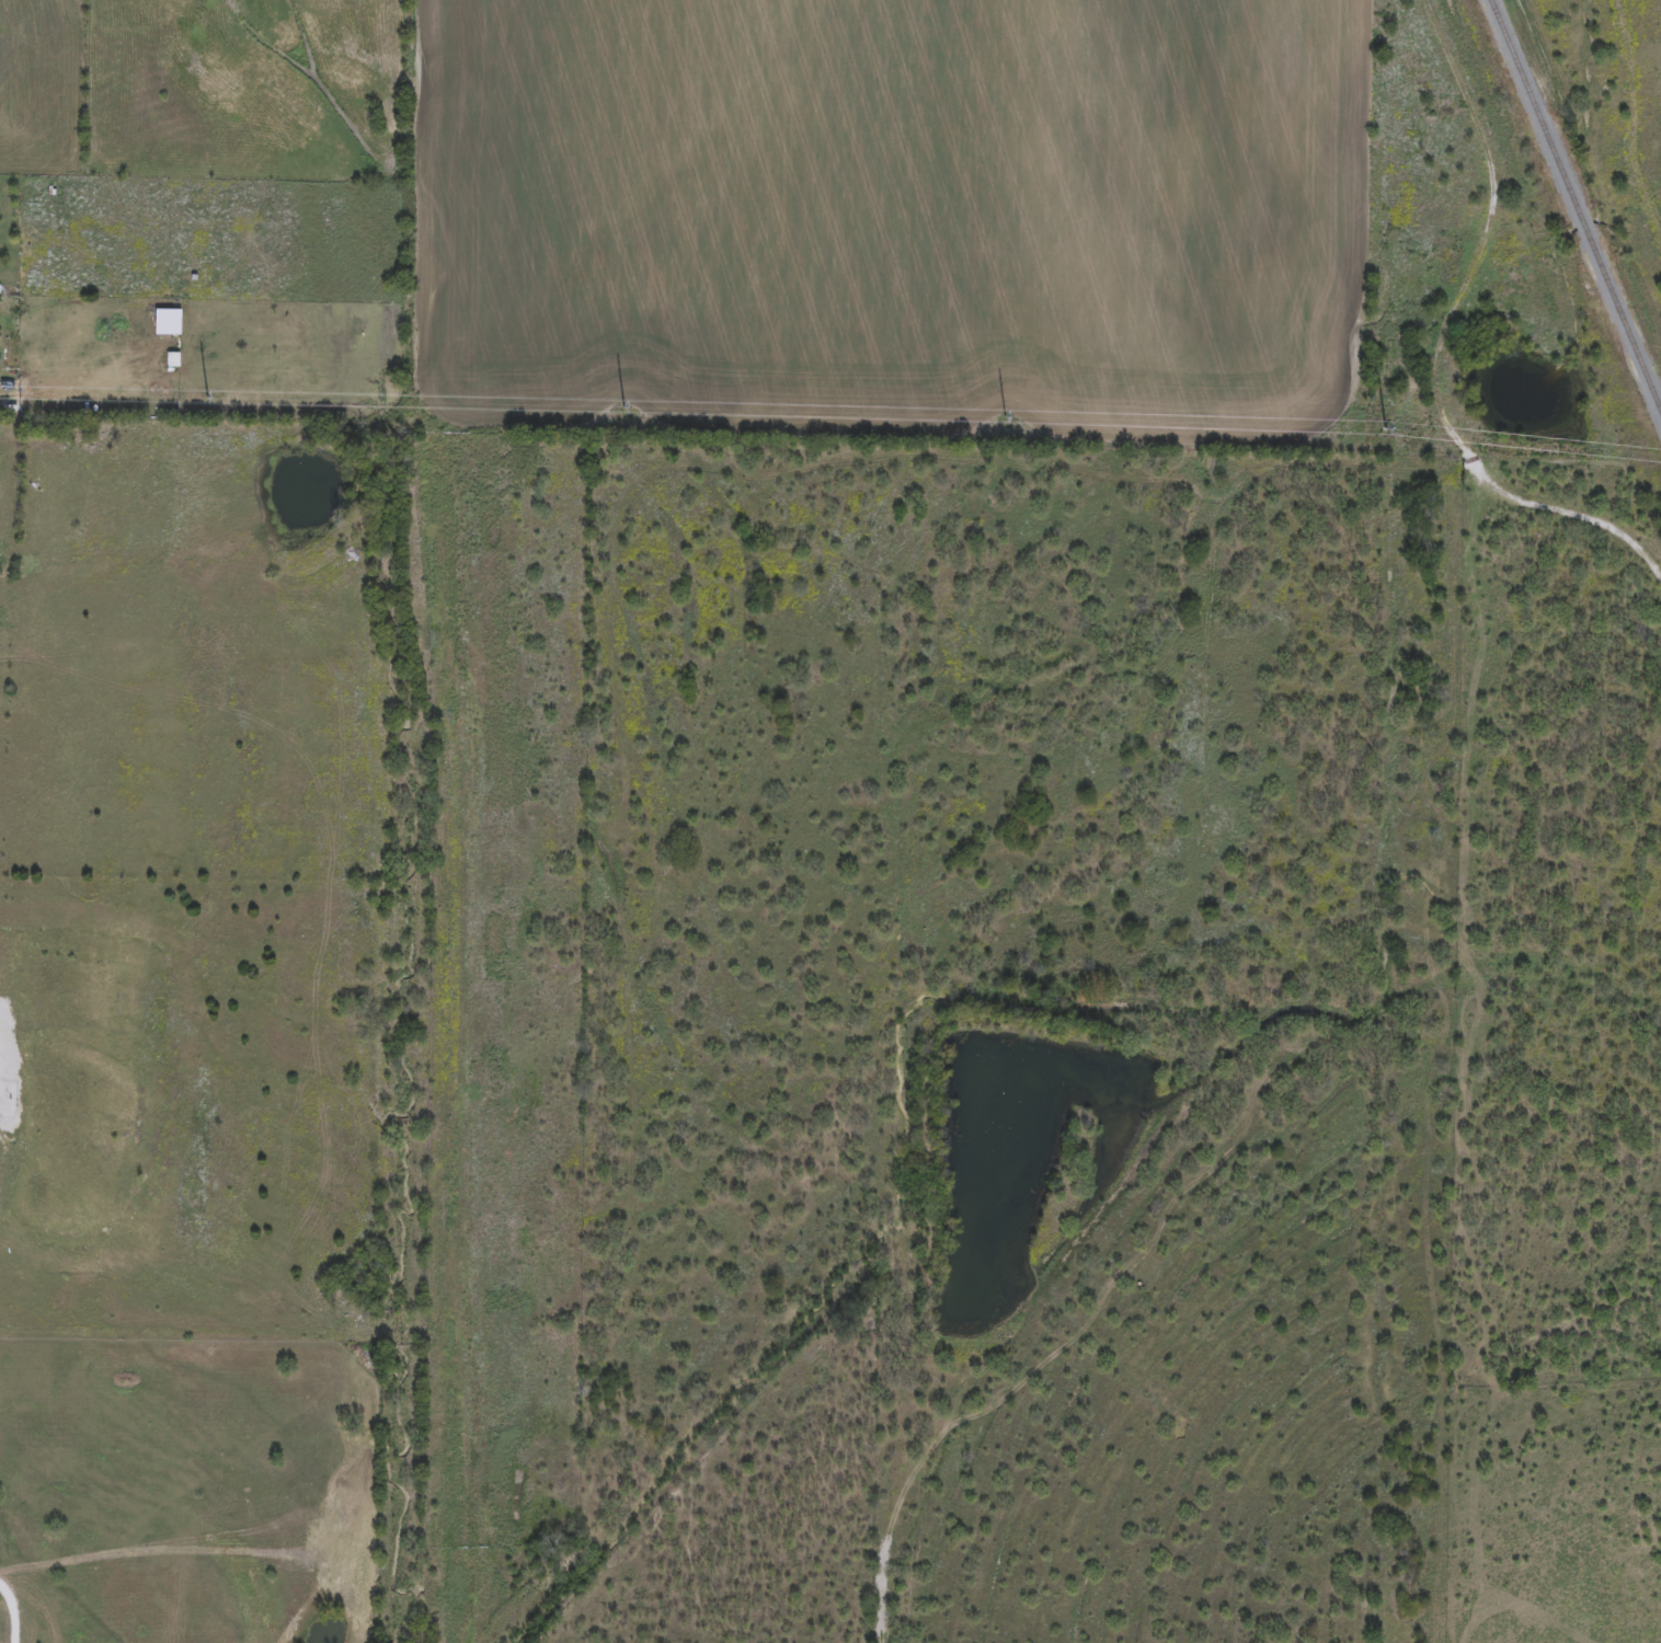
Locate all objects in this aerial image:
railway: (1576, 205)
building: (168, 324)

